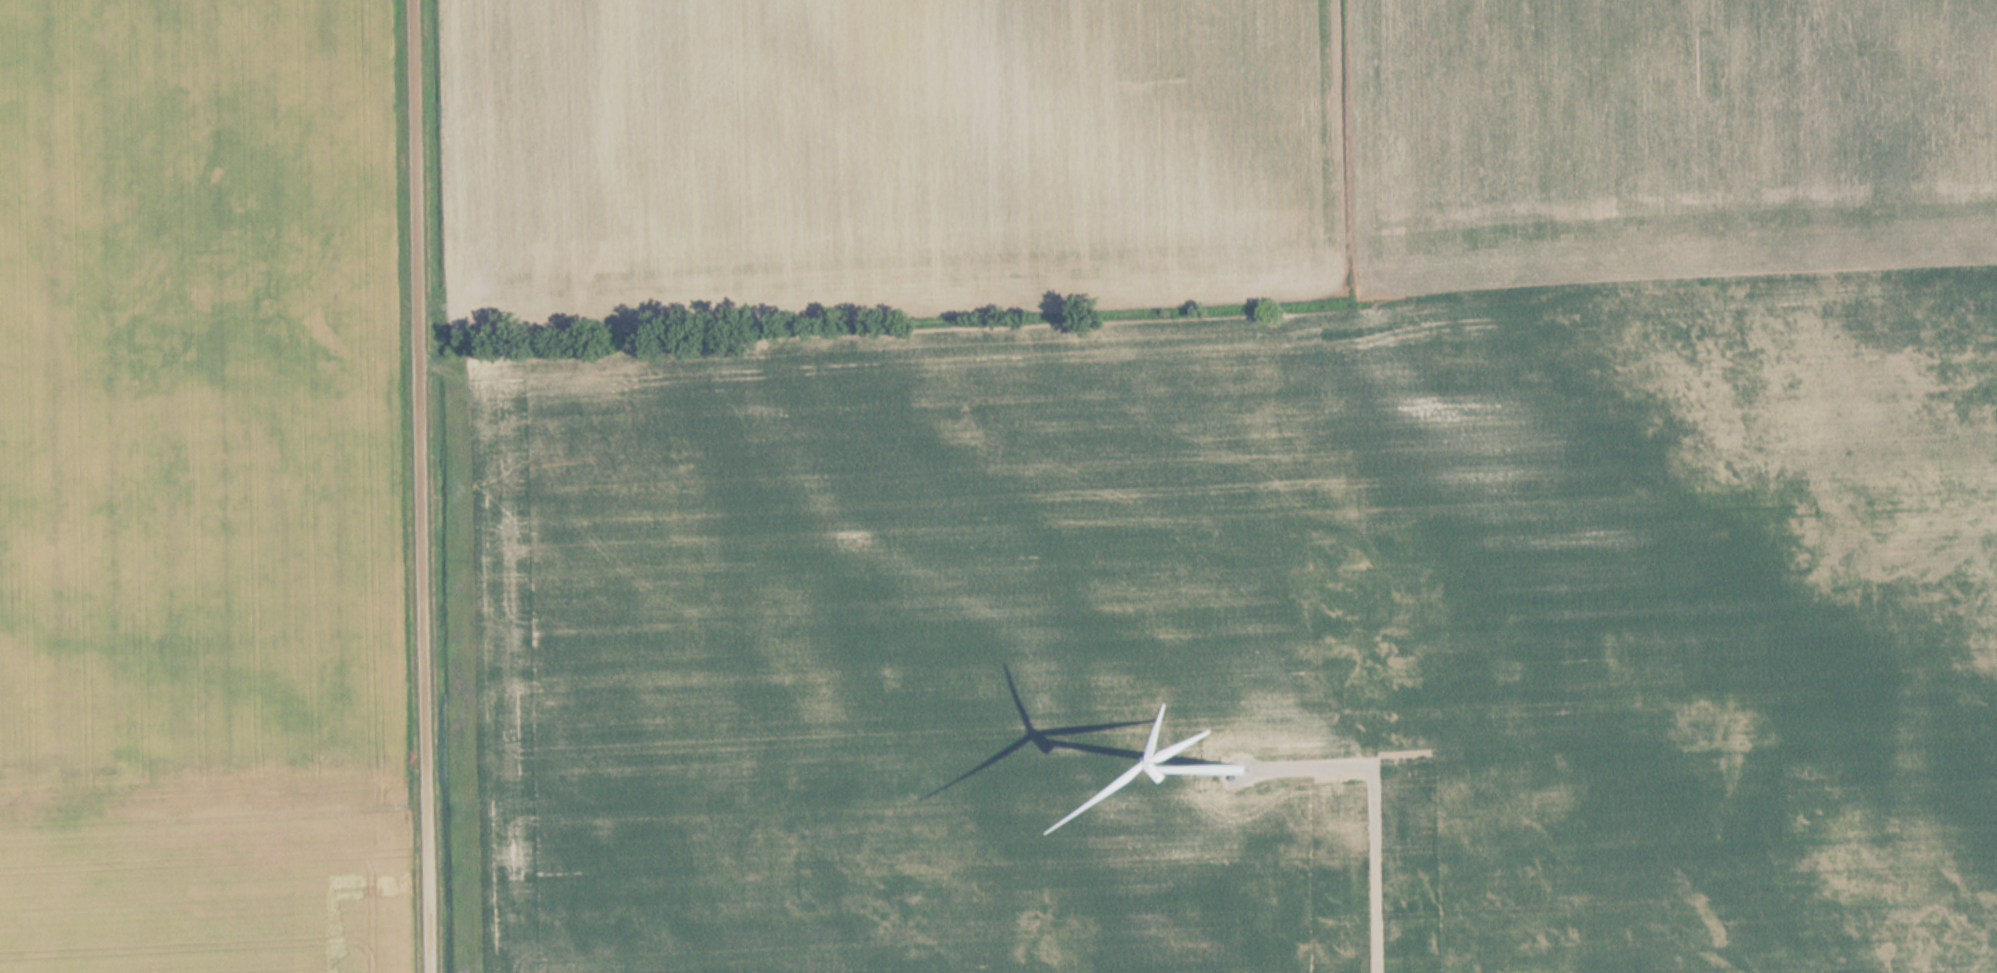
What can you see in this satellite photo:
road: (424, 486)
wind turbine: (1246, 771)
road: (1390, 834)

